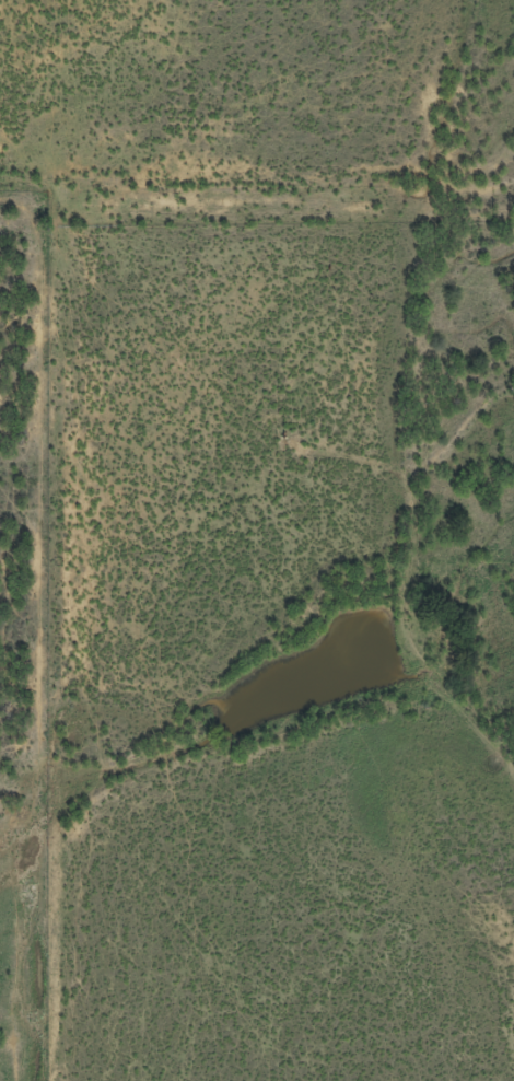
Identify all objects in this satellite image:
road: (256, 211)

